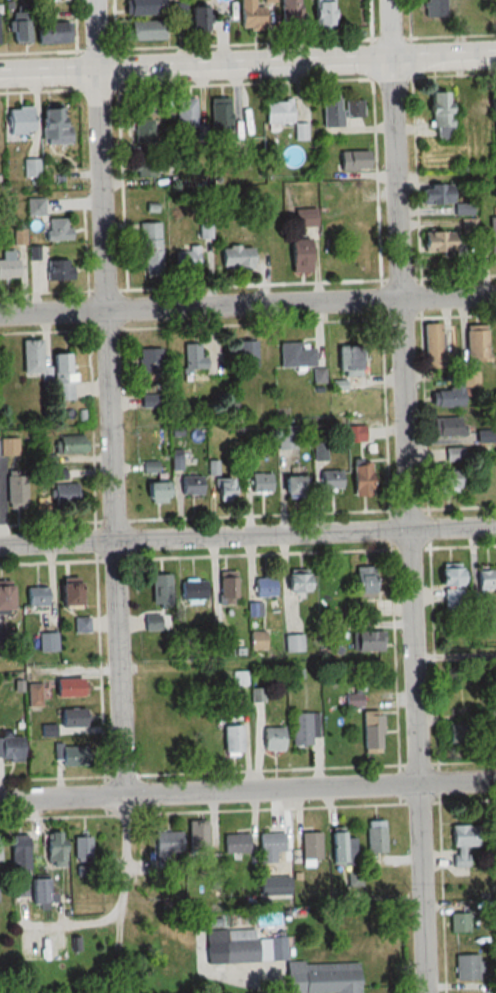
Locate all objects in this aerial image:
building: (144, 7)
building: (434, 9)
building: (475, 10)
building: (322, 13)
building: (289, 15)
building: (251, 16)
building: (198, 19)
building: (18, 24)
building: (143, 30)
building: (52, 32)
road: (248, 63)
building: (354, 109)
building: (331, 111)
building: (278, 112)
building: (440, 114)
building: (185, 116)
building: (220, 117)
building: (18, 120)
building: (52, 128)
building: (143, 131)
building: (353, 162)
building: (347, 197)
building: (437, 197)
building: (34, 207)
building: (304, 219)
building: (57, 230)
building: (492, 236)
building: (438, 245)
building: (150, 248)
building: (357, 249)
building: (297, 257)
building: (235, 258)
building: (188, 260)
building: (9, 265)
building: (58, 271)
road: (248, 304)
building: (475, 343)
building: (433, 347)
building: (246, 353)
building: (295, 355)
building: (193, 358)
building: (348, 360)
building: (149, 362)
building: (47, 367)
road: (109, 398)
building: (445, 398)
building: (449, 427)
building: (287, 437)
building: (3, 447)
building: (452, 454)
building: (152, 467)
building: (329, 479)
building: (359, 479)
building: (444, 480)
building: (220, 482)
building: (260, 482)
building: (292, 486)
building: (191, 488)
building: (155, 491)
road: (409, 496)
road: (247, 533)
building: (449, 576)
building: (485, 579)
building: (363, 581)
building: (297, 582)
building: (264, 586)
building: (160, 589)
building: (226, 589)
building: (195, 591)
building: (66, 592)
building: (35, 596)
building: (3, 597)
building: (255, 609)
building: (152, 622)
building: (81, 624)
building: (258, 640)
building: (368, 640)
building: (47, 642)
building: (294, 643)
building: (223, 646)
road: (456, 658)
building: (68, 688)
building: (33, 695)
building: (157, 707)
building: (70, 721)
building: (303, 729)
building: (370, 731)
building: (494, 733)
building: (273, 739)
building: (231, 740)
building: (162, 742)
building: (7, 748)
building: (70, 756)
road: (248, 791)
building: (196, 835)
building: (375, 836)
building: (462, 842)
building: (167, 844)
building: (236, 844)
building: (270, 846)
building: (310, 846)
building: (83, 847)
building: (0, 848)
building: (55, 849)
building: (342, 849)
building: (19, 851)
building: (82, 871)
building: (20, 887)
building: (41, 896)
building: (459, 922)
building: (232, 949)
building: (468, 966)
building: (321, 977)

